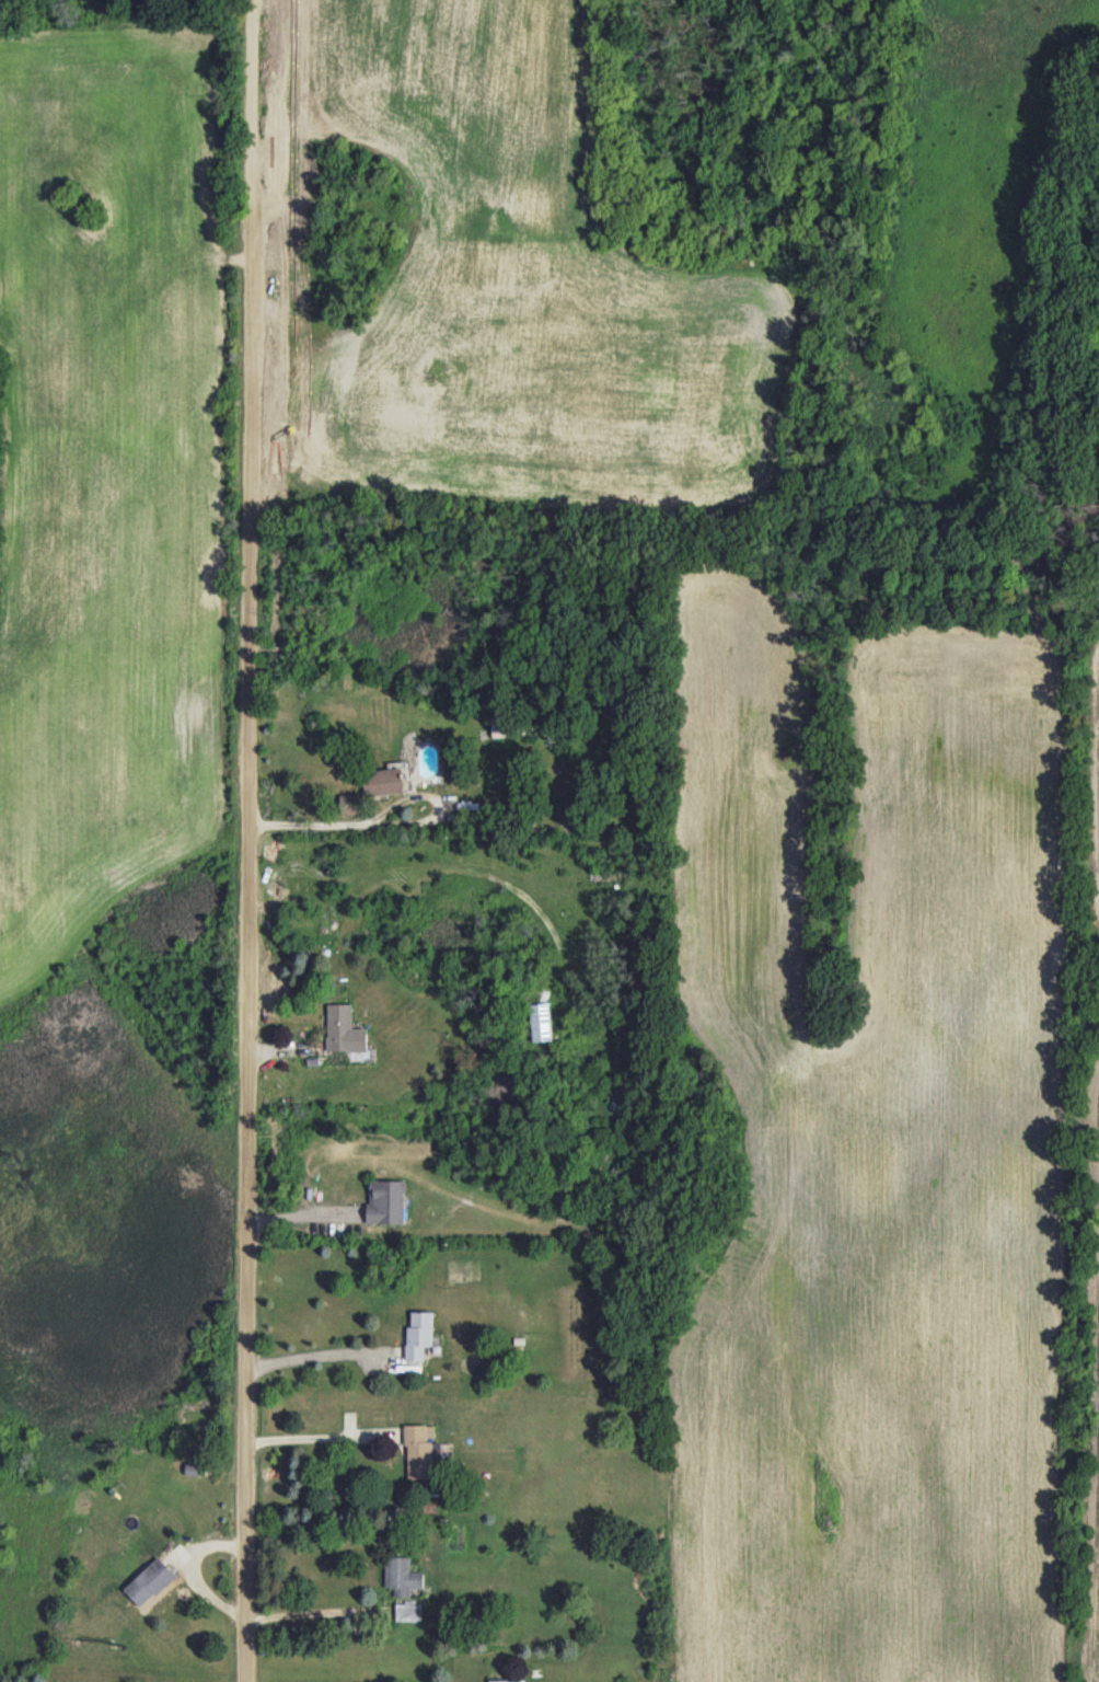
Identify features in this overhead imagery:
road: (252, 84)
building: (502, 727)
building: (383, 782)
road: (336, 822)
crop: (666, 891)
road: (247, 924)
building: (541, 1022)
building: (344, 1029)
building: (386, 1201)
road: (303, 1216)
building: (419, 1334)
road: (313, 1355)
road: (315, 1438)
building: (425, 1451)
building: (402, 1576)
building: (149, 1581)
road: (313, 1612)
building: (408, 1612)
building: (506, 1681)

